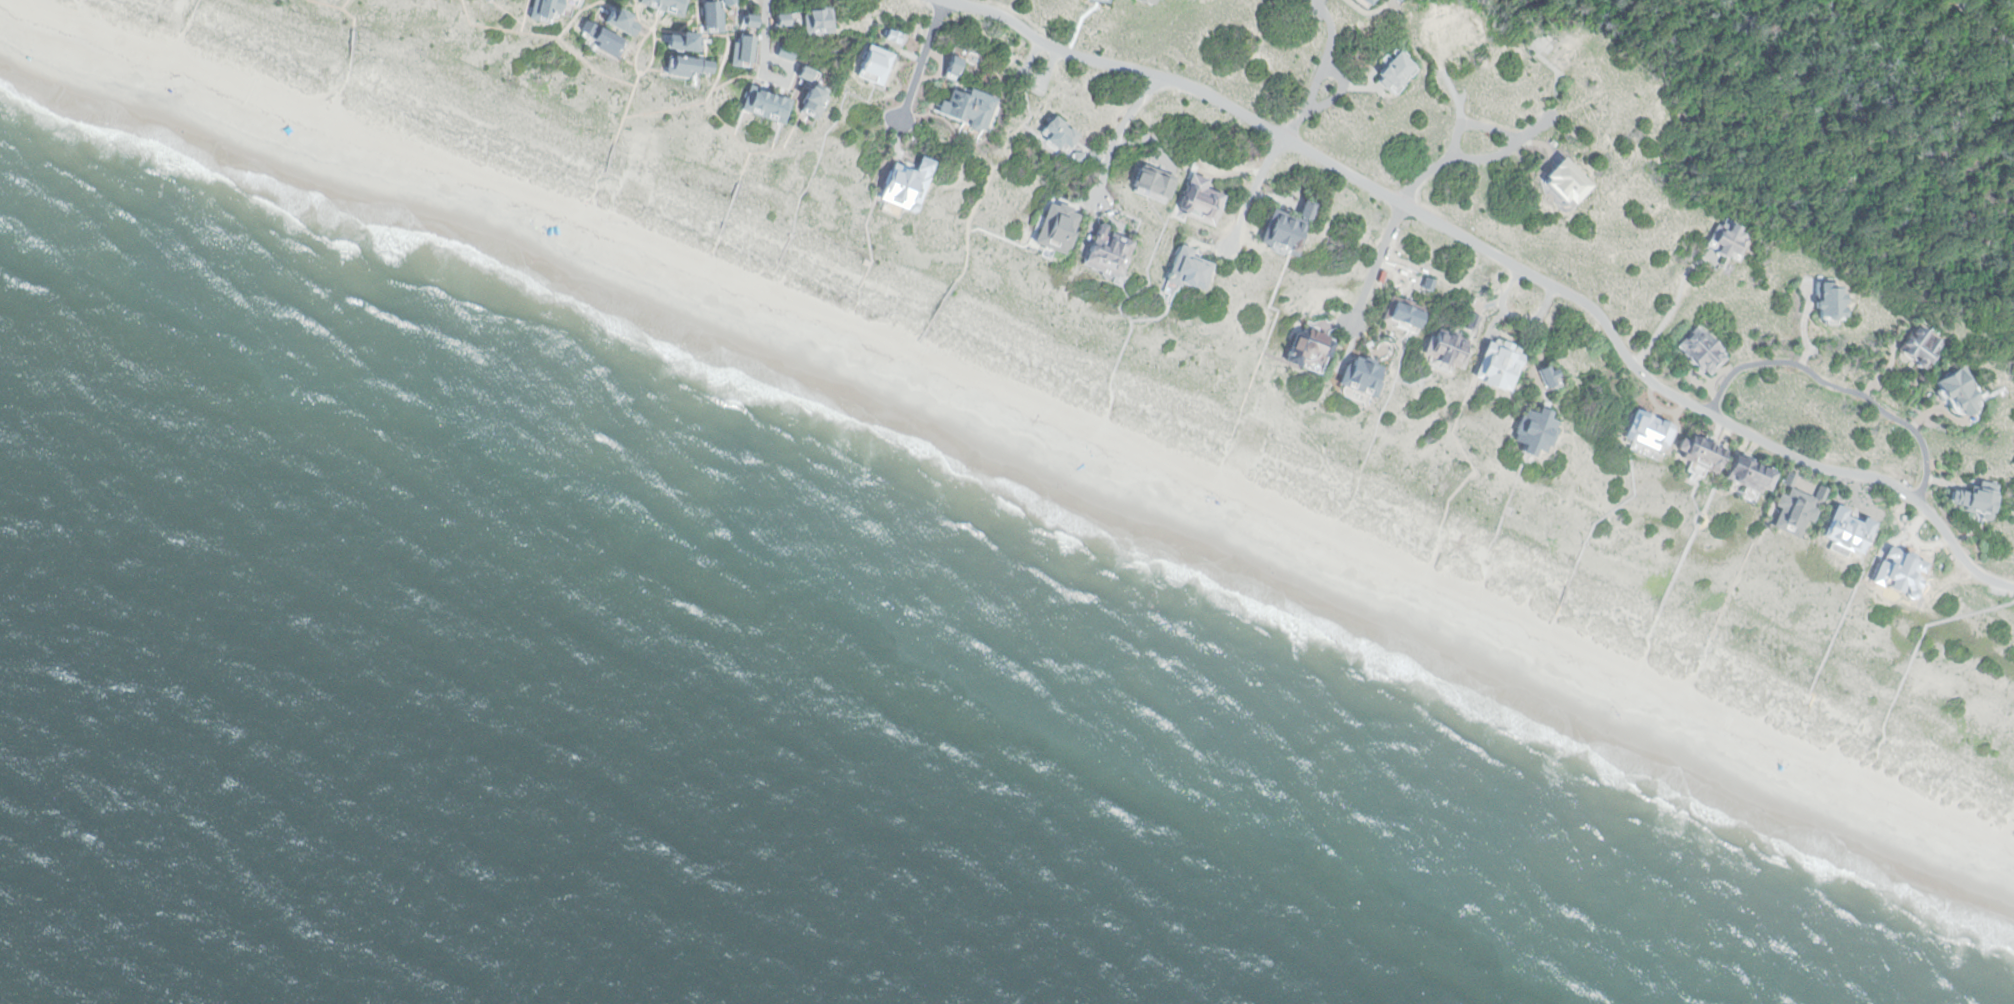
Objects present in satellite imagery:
building: (482, 0)
road: (944, 1)
building: (1099, 1)
building: (1141, 1)
building: (1392, 1)
building: (1364, 2)
road: (2010, 2)
building: (723, 3)
building: (663, 4)
building: (540, 9)
building: (708, 15)
building: (745, 19)
building: (778, 20)
building: (616, 21)
building: (814, 21)
road: (1988, 22)
road: (764, 28)
road: (1329, 29)
building: (1442, 29)
building: (888, 37)
building: (601, 40)
building: (677, 41)
building: (191, 43)
building: (1563, 47)
building: (738, 49)
building: (782, 53)
building: (973, 58)
road: (921, 60)
building: (951, 65)
building: (681, 66)
building: (872, 66)
building: (1392, 71)
building: (801, 74)
road: (783, 80)
road: (1315, 85)
road: (1341, 91)
building: (808, 101)
building: (763, 103)
building: (965, 109)
road: (1236, 110)
road: (1296, 123)
building: (1056, 133)
road: (1118, 133)
road: (1503, 134)
building: (1077, 158)
road: (1423, 176)
building: (900, 188)
road: (1251, 191)
building: (1197, 200)
building: (1054, 226)
building: (1285, 227)
building: (1725, 239)
building: (1106, 252)
road: (1375, 263)
building: (1185, 268)
road: (1535, 278)
building: (1427, 284)
building: (1828, 298)
building: (1400, 315)
road: (1513, 317)
building: (1470, 321)
building: (1920, 345)
building: (1446, 346)
building: (1306, 347)
building: (1703, 350)
building: (1497, 366)
building: (1359, 376)
building: (1546, 376)
road: (1838, 386)
building: (1956, 391)
building: (1532, 431)
building: (1645, 431)
road: (1778, 449)
building: (1699, 452)
building: (1746, 474)
building: (1976, 499)
building: (1795, 505)
road: (1920, 638)

